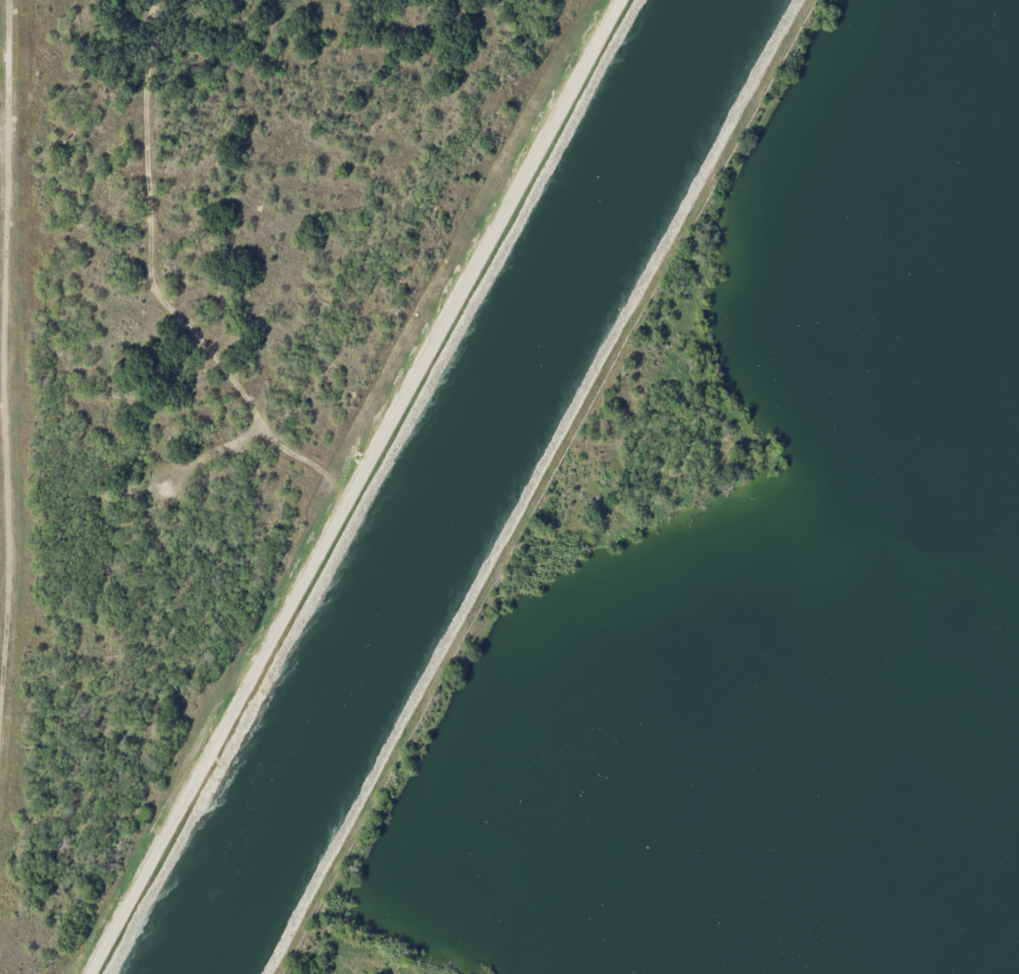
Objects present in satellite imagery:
road: (358, 487)

